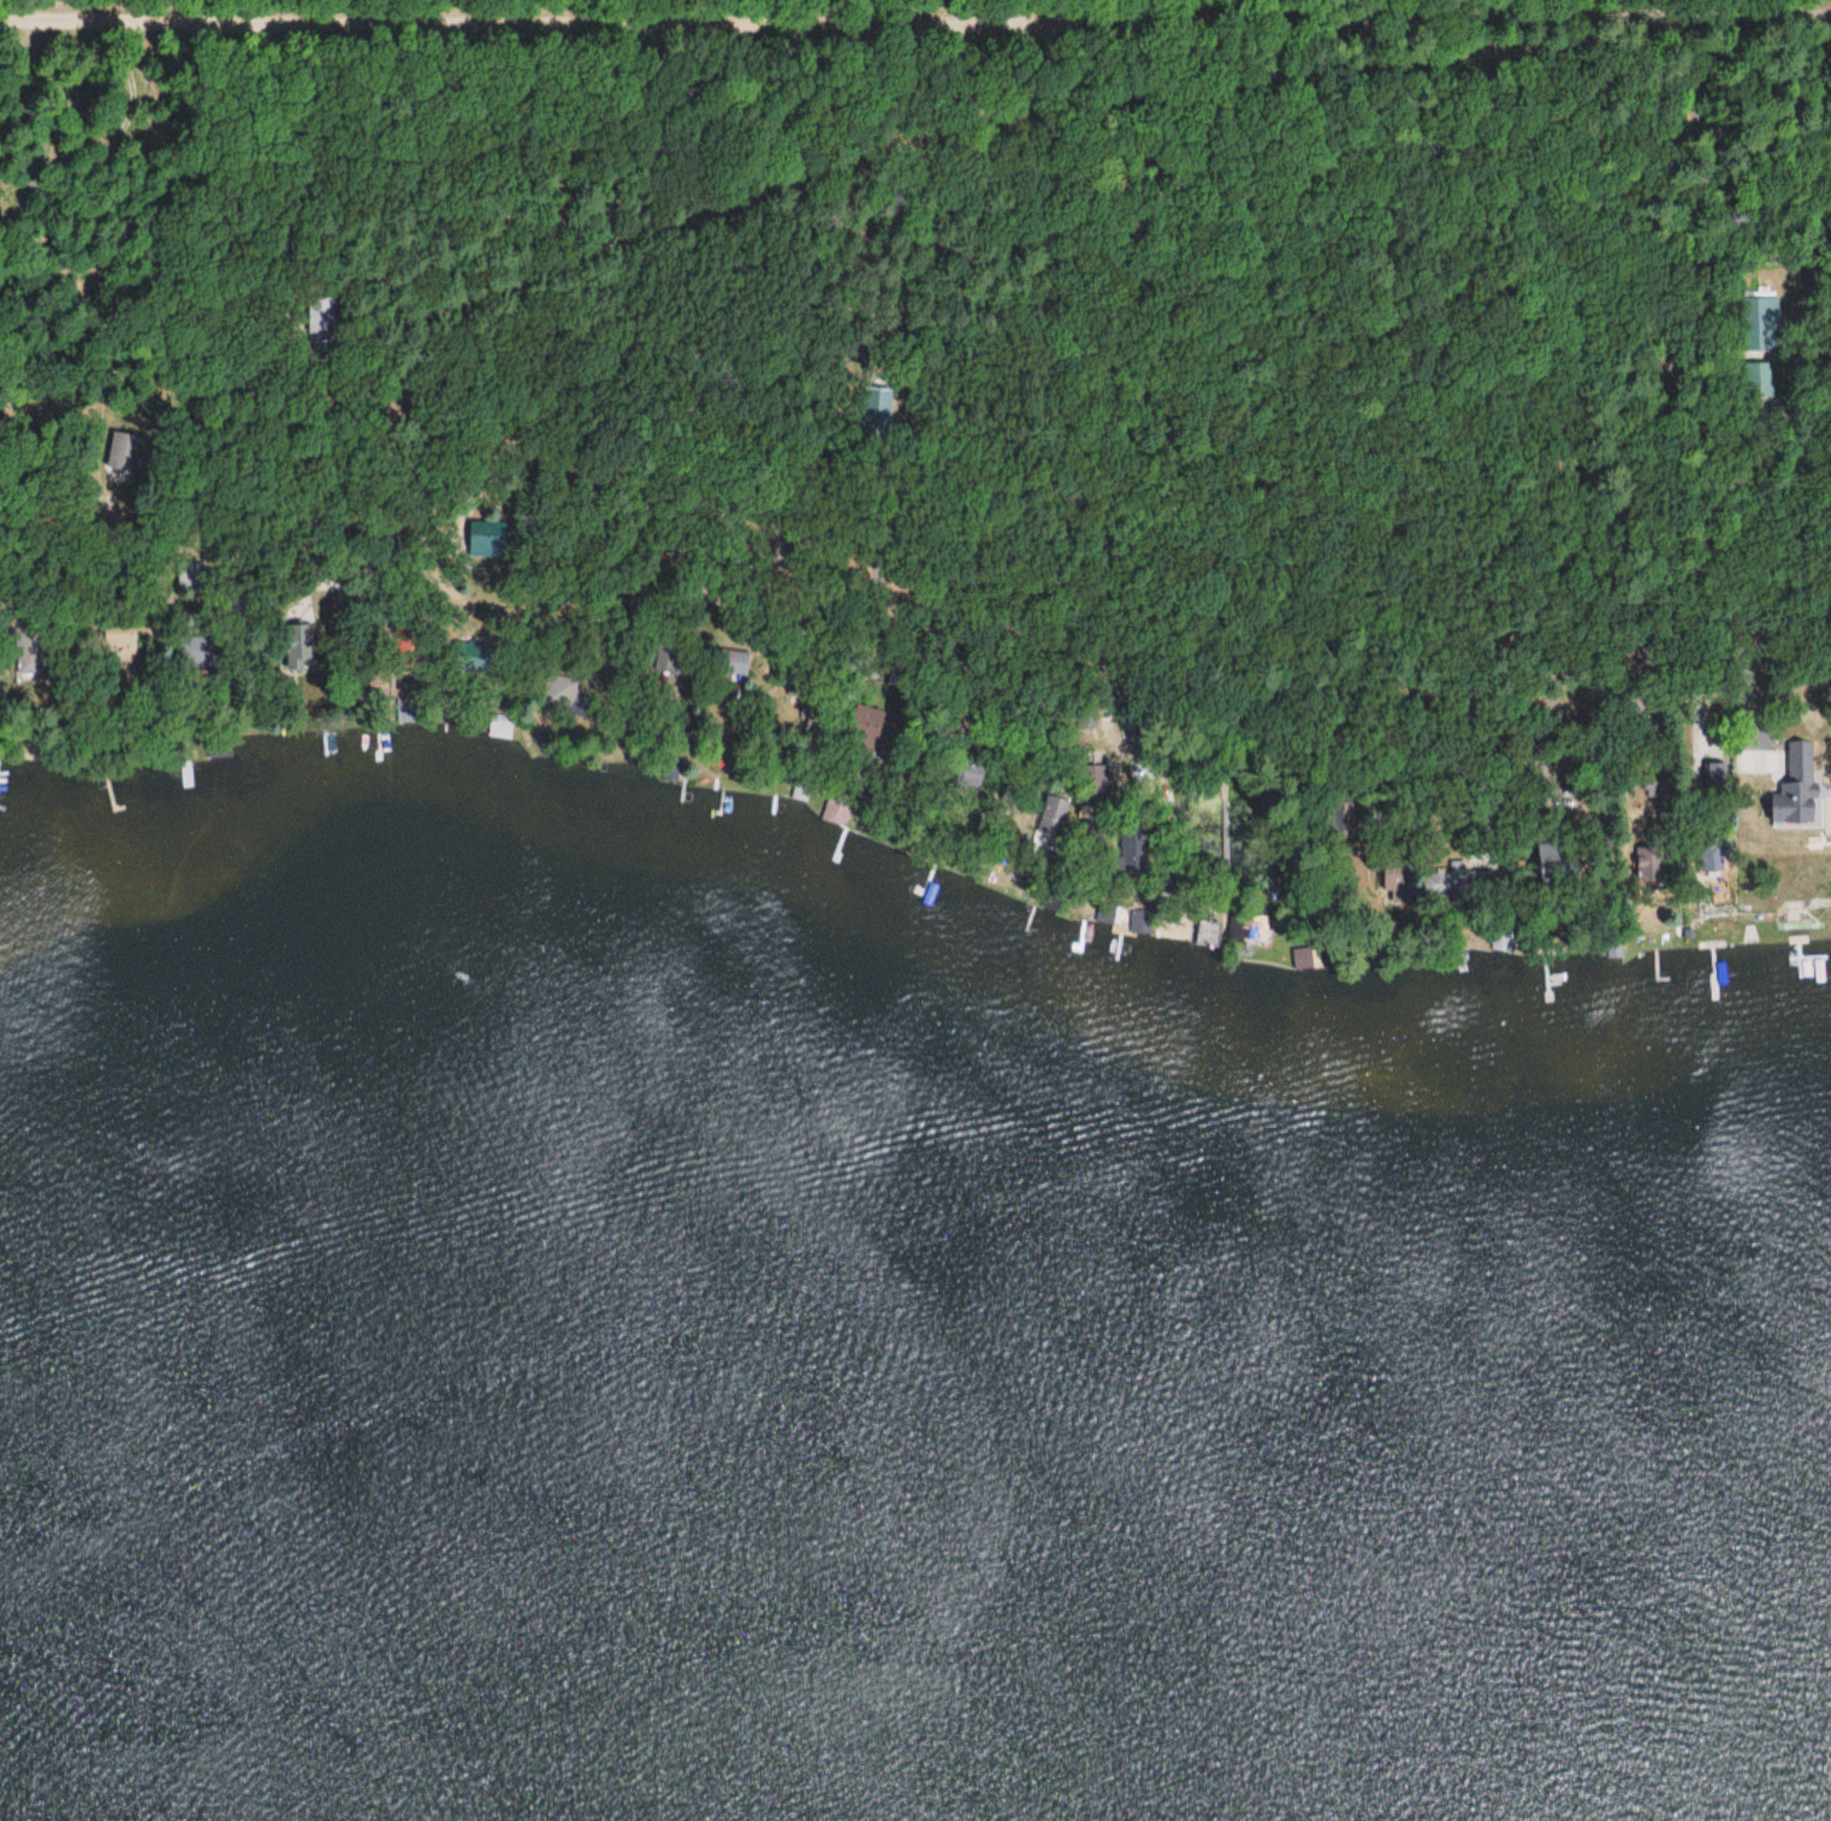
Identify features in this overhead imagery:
road: (1604, 22)
road: (1282, 66)
road: (592, 78)
road: (1322, 149)
road: (547, 162)
road: (1297, 166)
road: (1349, 197)
road: (1257, 206)
road: (620, 215)
road: (1152, 219)
road: (1124, 220)
road: (1082, 239)
road: (1030, 253)
road: (1823, 256)
road: (683, 259)
road: (209, 265)
road: (737, 285)
road: (843, 292)
road: (789, 307)
road: (1192, 307)
building: (327, 319)
building: (1762, 326)
road: (895, 363)
road: (1380, 388)
road: (948, 437)
building: (120, 459)
building: (190, 574)
building: (118, 640)
building: (295, 645)
building: (196, 646)
building: (665, 659)
building: (731, 663)
building: (557, 693)
building: (1085, 722)
building: (866, 728)
building: (1713, 776)
building: (1795, 790)
building: (1053, 809)
building: (1341, 820)
building: (1132, 847)
building: (1711, 853)
building: (1393, 877)
building: (1445, 884)
building: (1205, 933)
building: (1500, 941)

